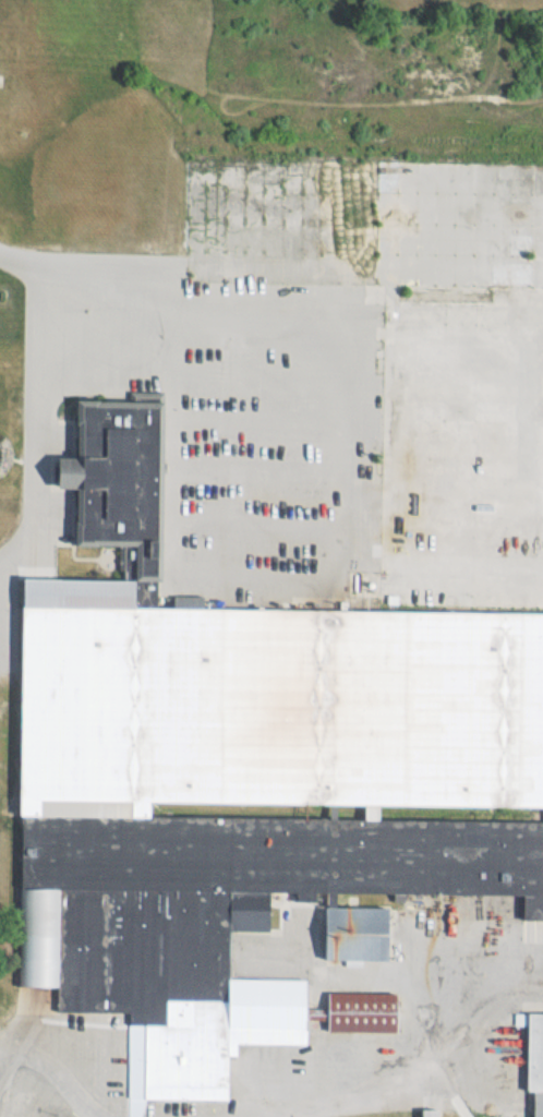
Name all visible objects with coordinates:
road: (34, 10)
building: (246, 772)
building: (535, 1058)
road: (426, 1072)
road: (53, 1078)
building: (430, 1112)

